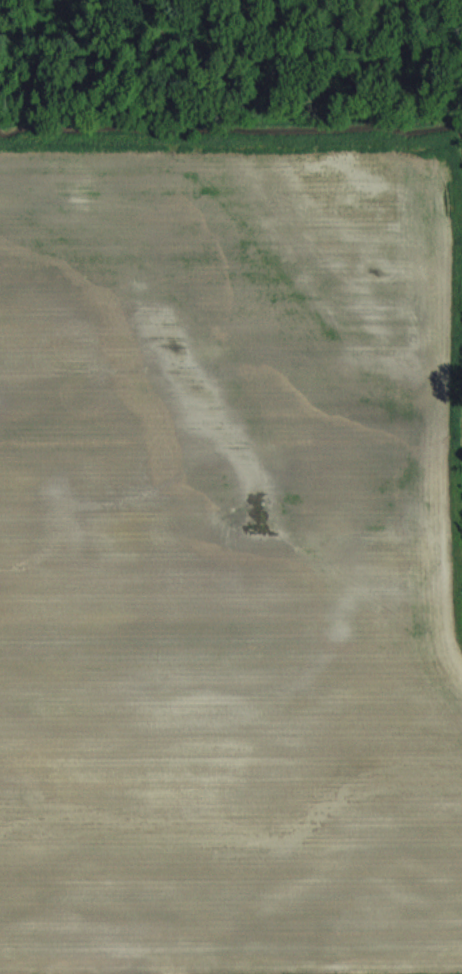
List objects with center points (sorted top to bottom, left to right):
crop: (231, 541)

